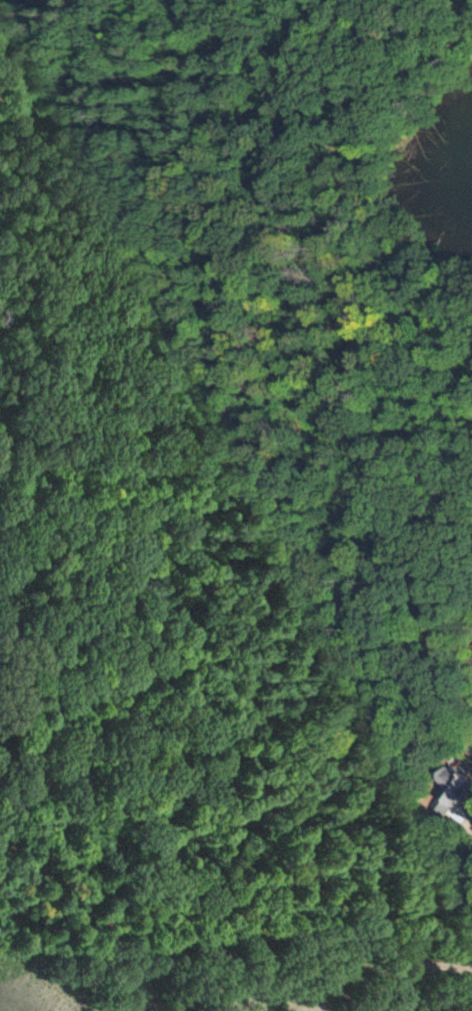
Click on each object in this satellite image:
building: (452, 785)

